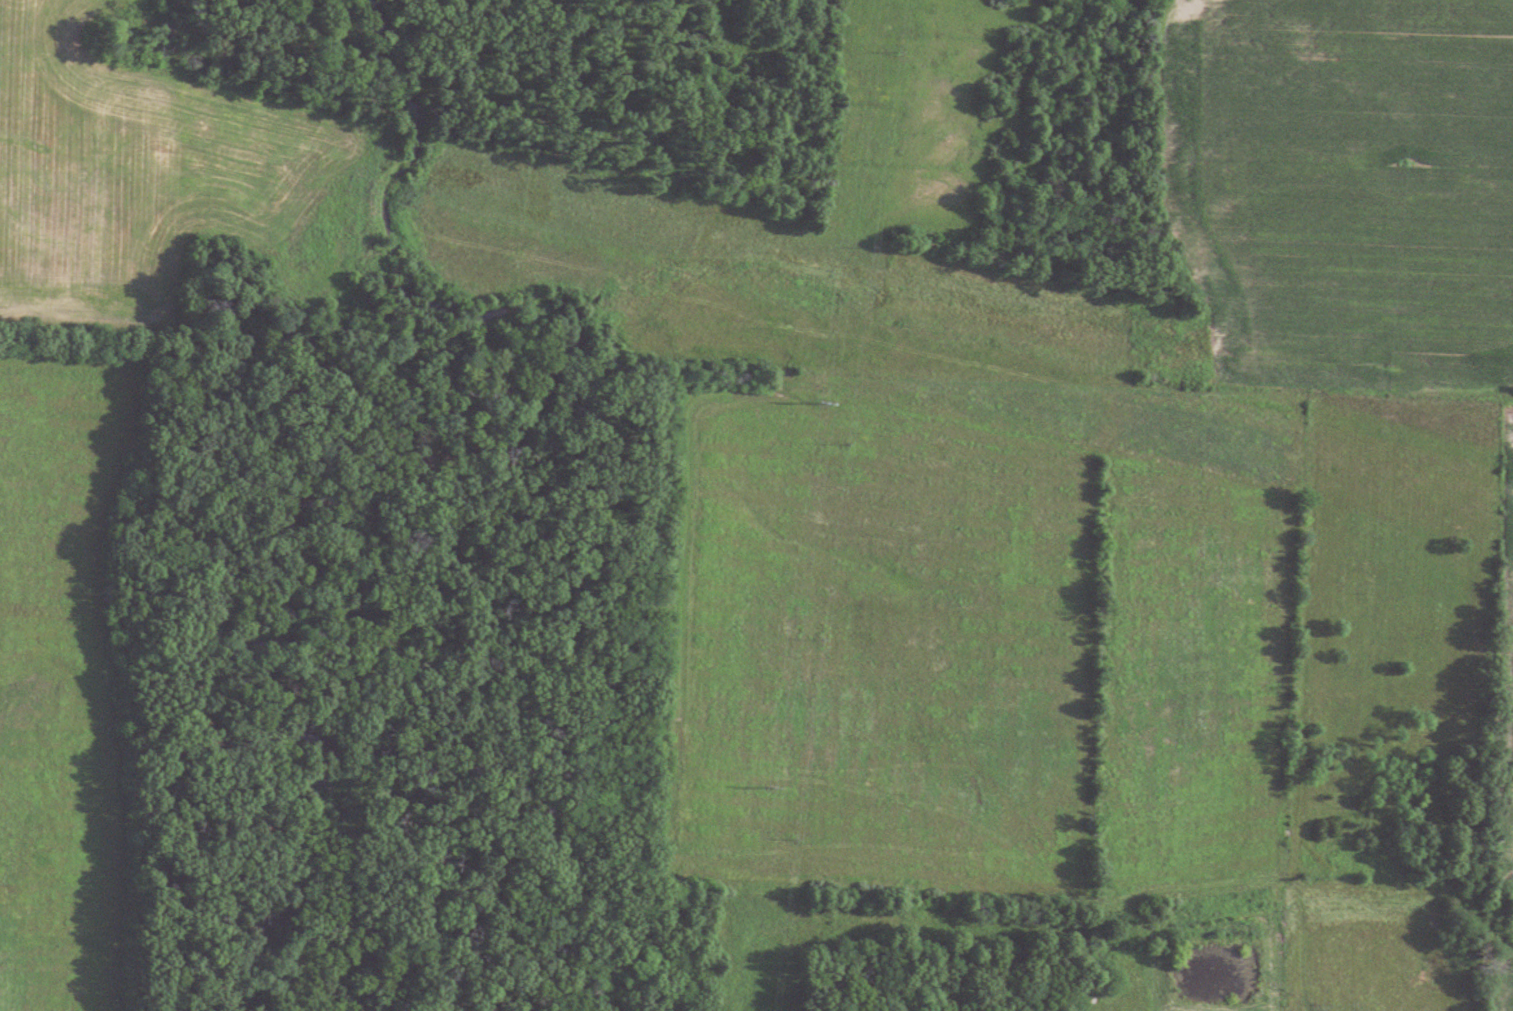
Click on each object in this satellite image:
power tower: (800, 389)

